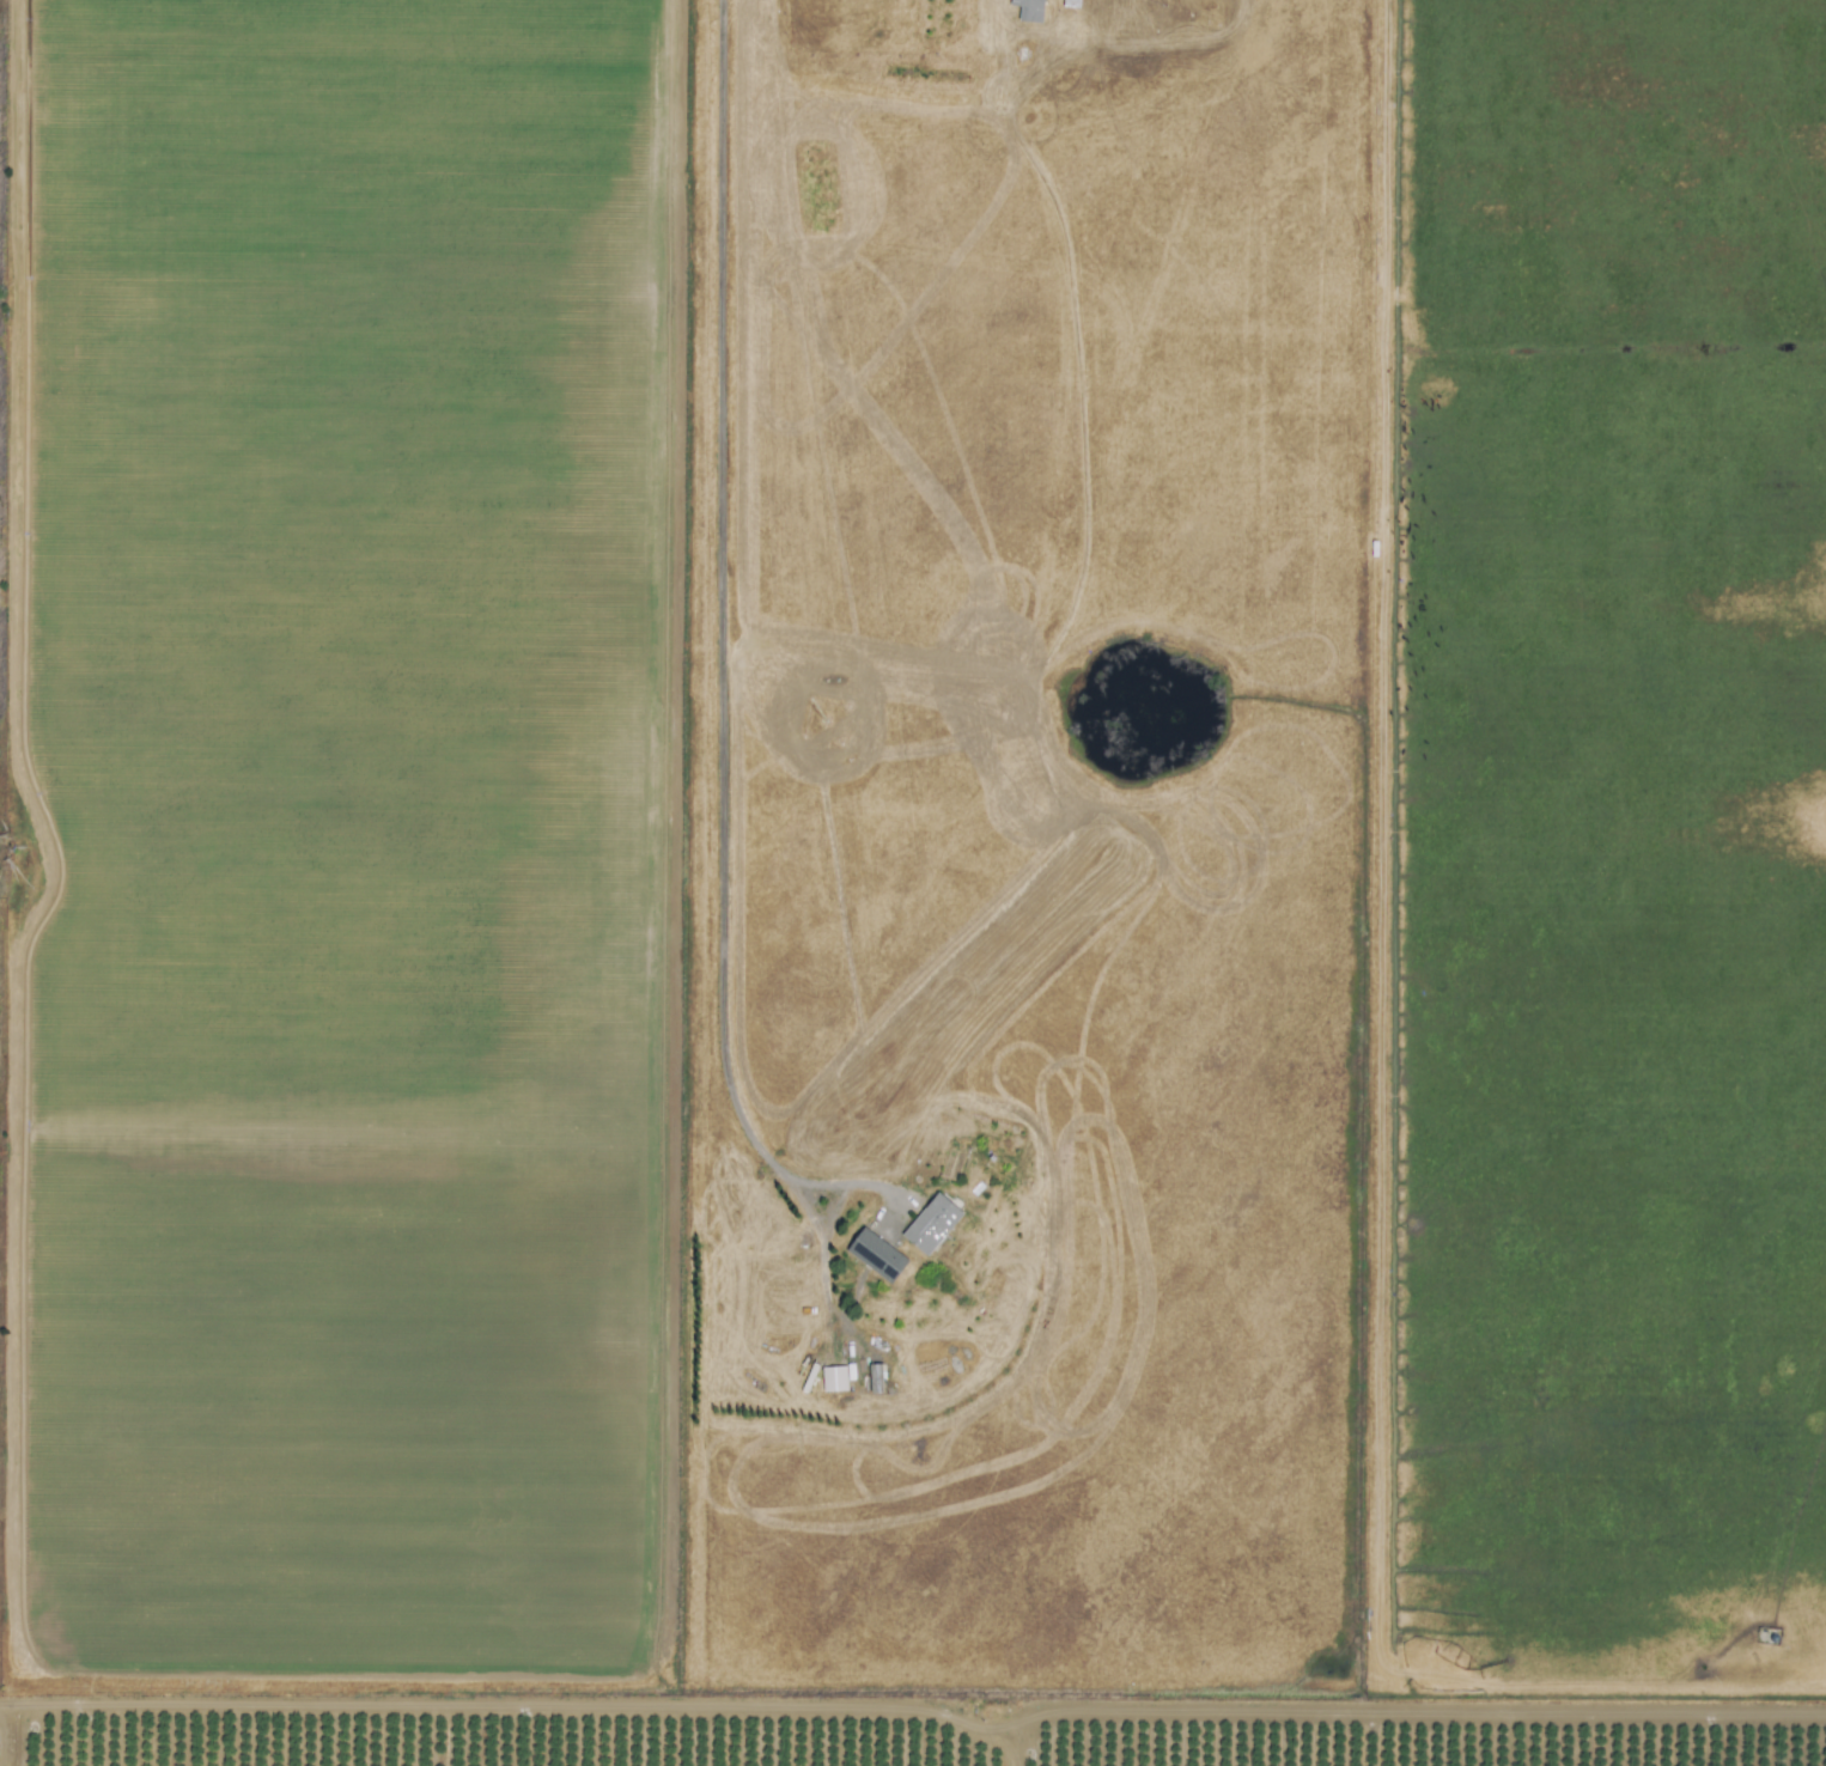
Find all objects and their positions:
building: (1023, 8)
road: (711, 662)
building: (926, 1222)
building: (871, 1253)
building: (833, 1378)

